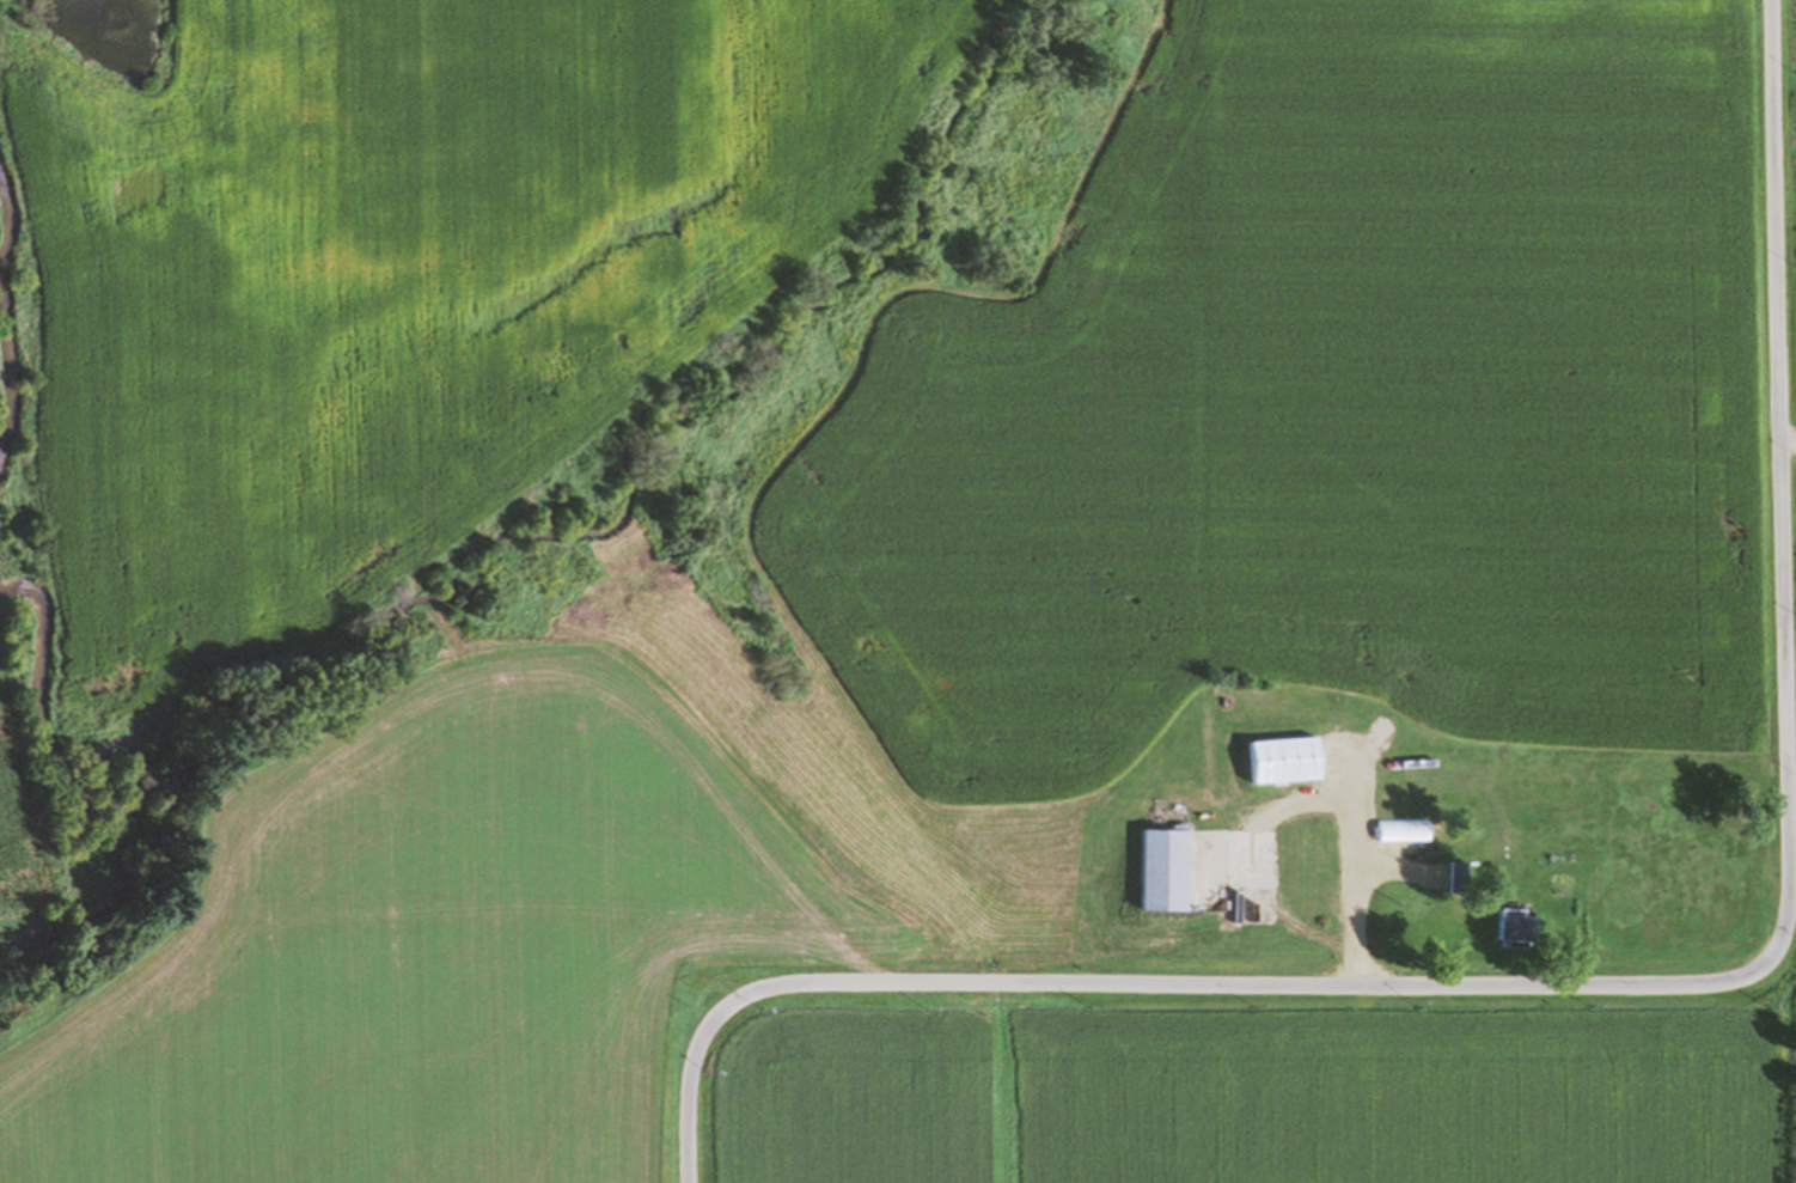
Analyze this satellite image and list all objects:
road: (1789, 443)
road: (664, 726)
building: (1283, 757)
road: (1300, 797)
building: (1400, 827)
road: (1393, 865)
building: (1163, 867)
road: (1351, 872)
building: (1513, 927)
road: (674, 975)
road: (1633, 981)

